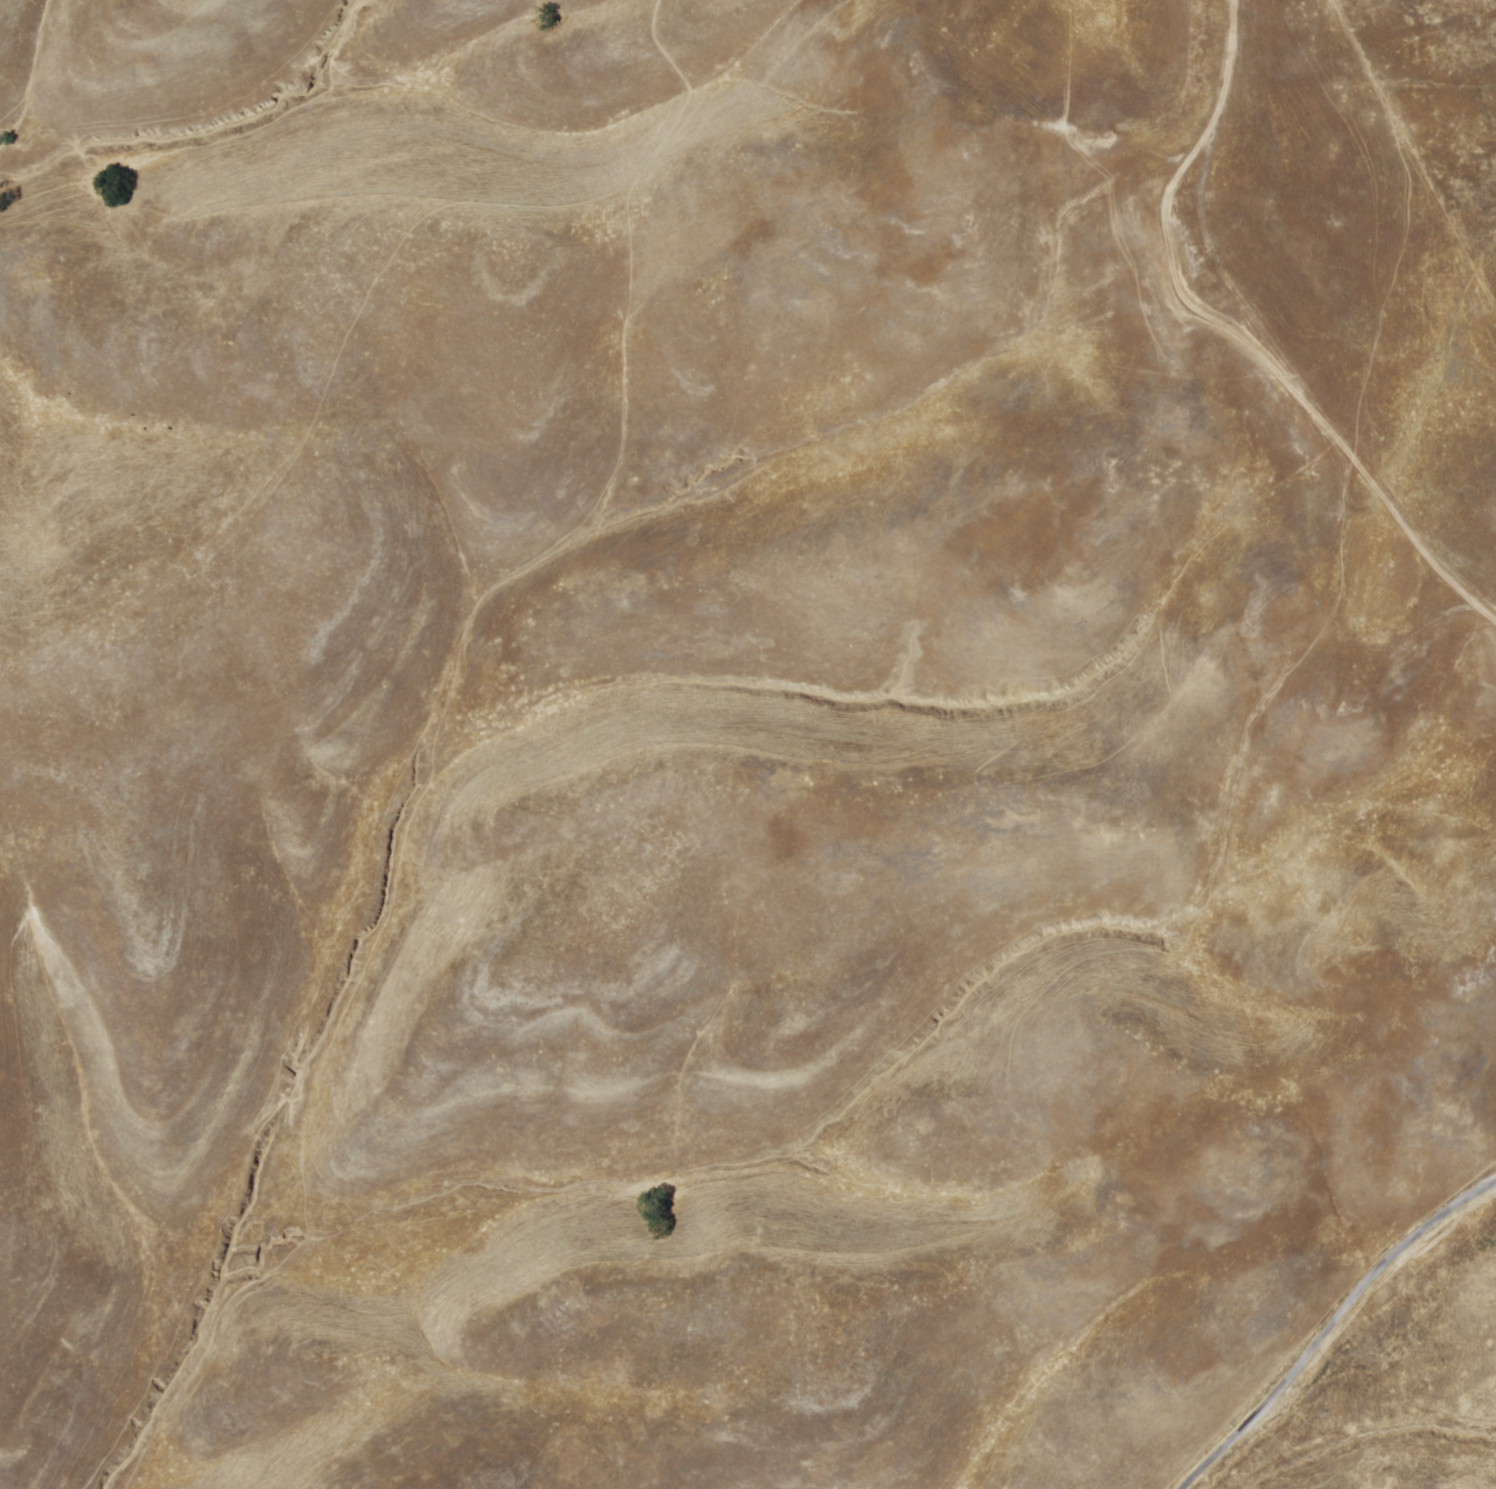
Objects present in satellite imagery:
road: (1239, 332)
road: (1324, 1322)

